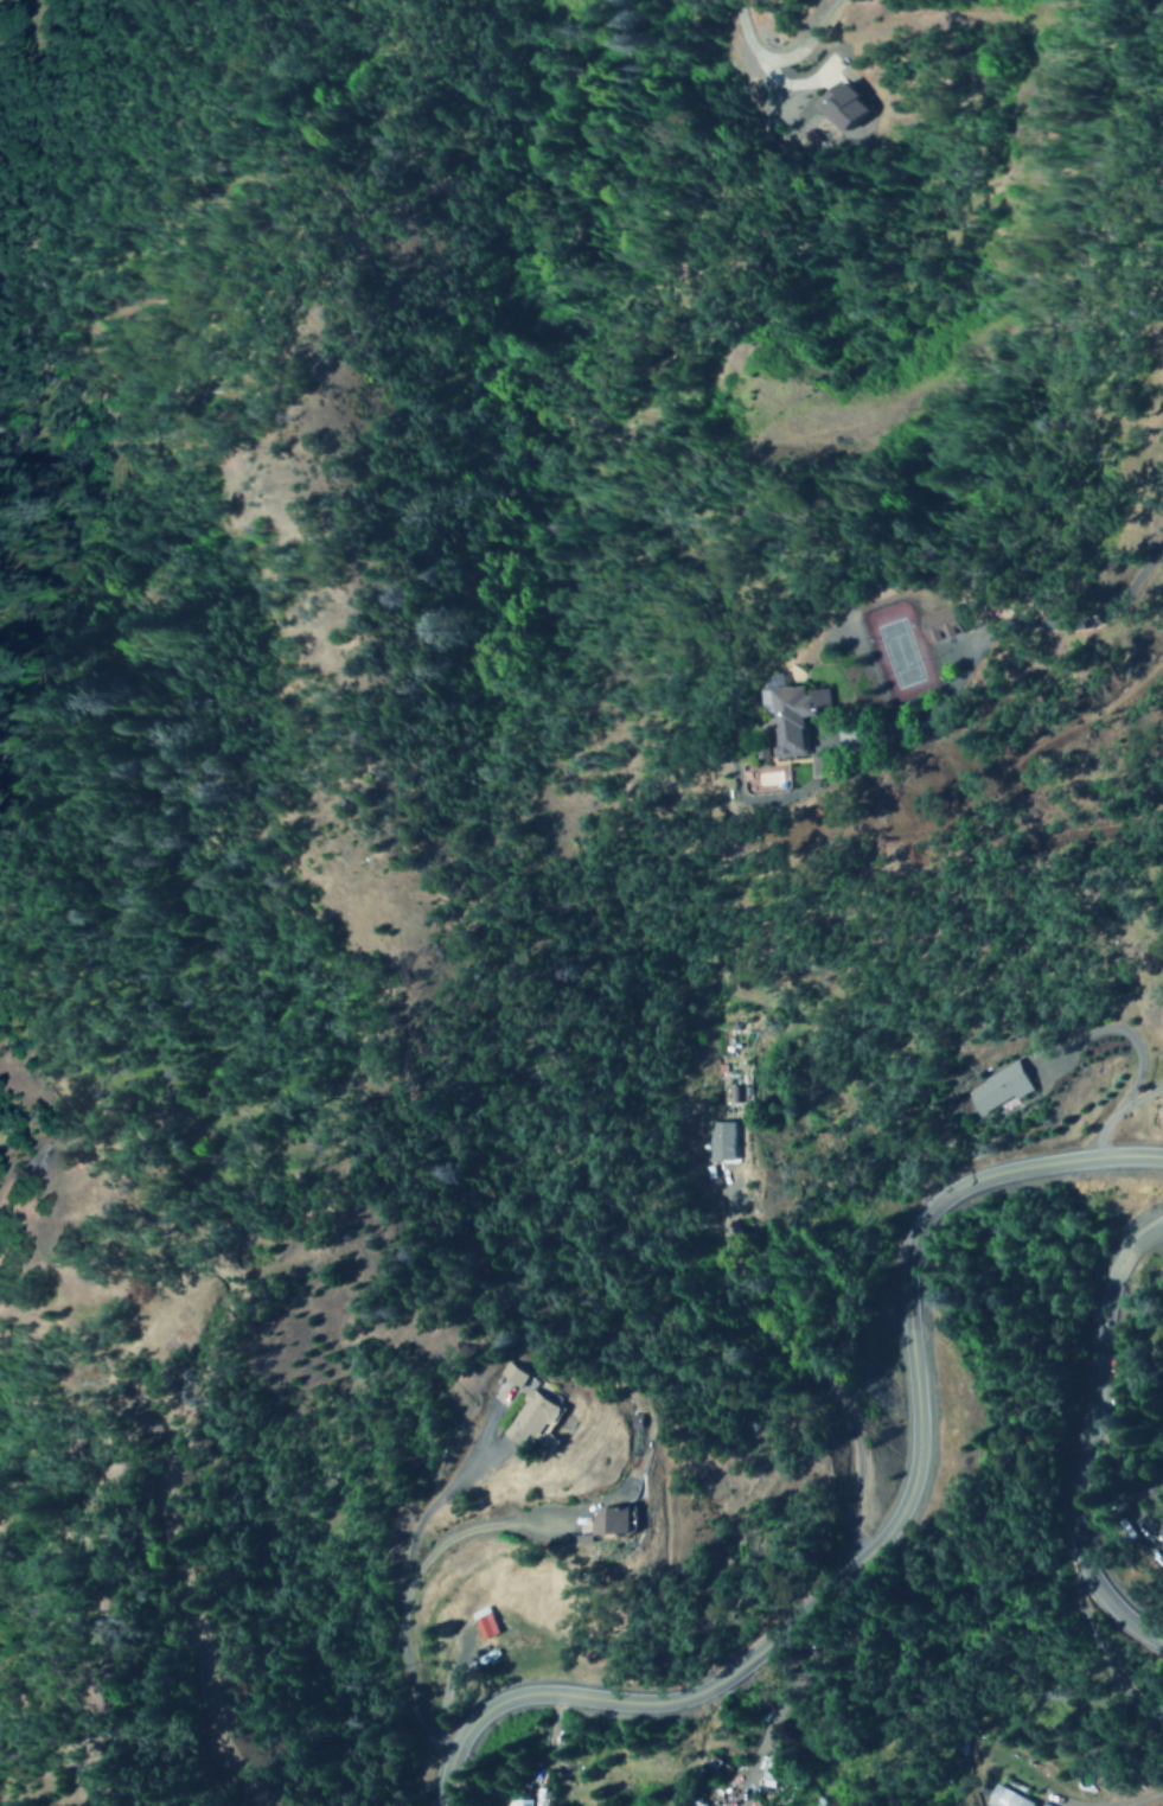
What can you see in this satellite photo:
road: (790, 63)
building: (849, 108)
road: (1028, 173)
road: (1008, 621)
building: (928, 623)
building: (781, 714)
road: (1126, 1036)
building: (995, 1089)
road: (1116, 1113)
building: (726, 1140)
building: (515, 1373)
building: (533, 1416)
road: (1084, 1434)
building: (615, 1520)
road: (880, 1520)
road: (402, 1602)
building: (484, 1622)
road: (196, 1641)
building: (767, 1770)
building: (1003, 1798)
building: (517, 1802)

